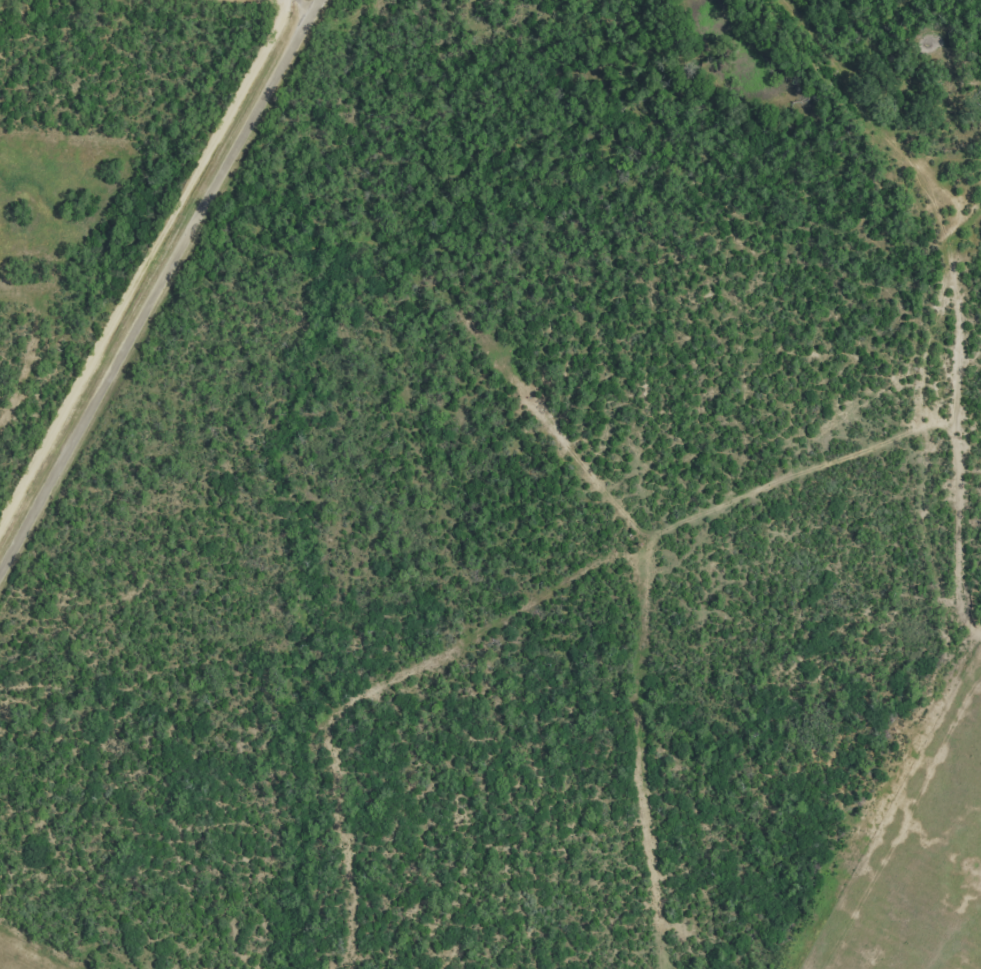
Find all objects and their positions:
road: (306, 4)
road: (588, 30)
road: (146, 265)
road: (157, 285)

